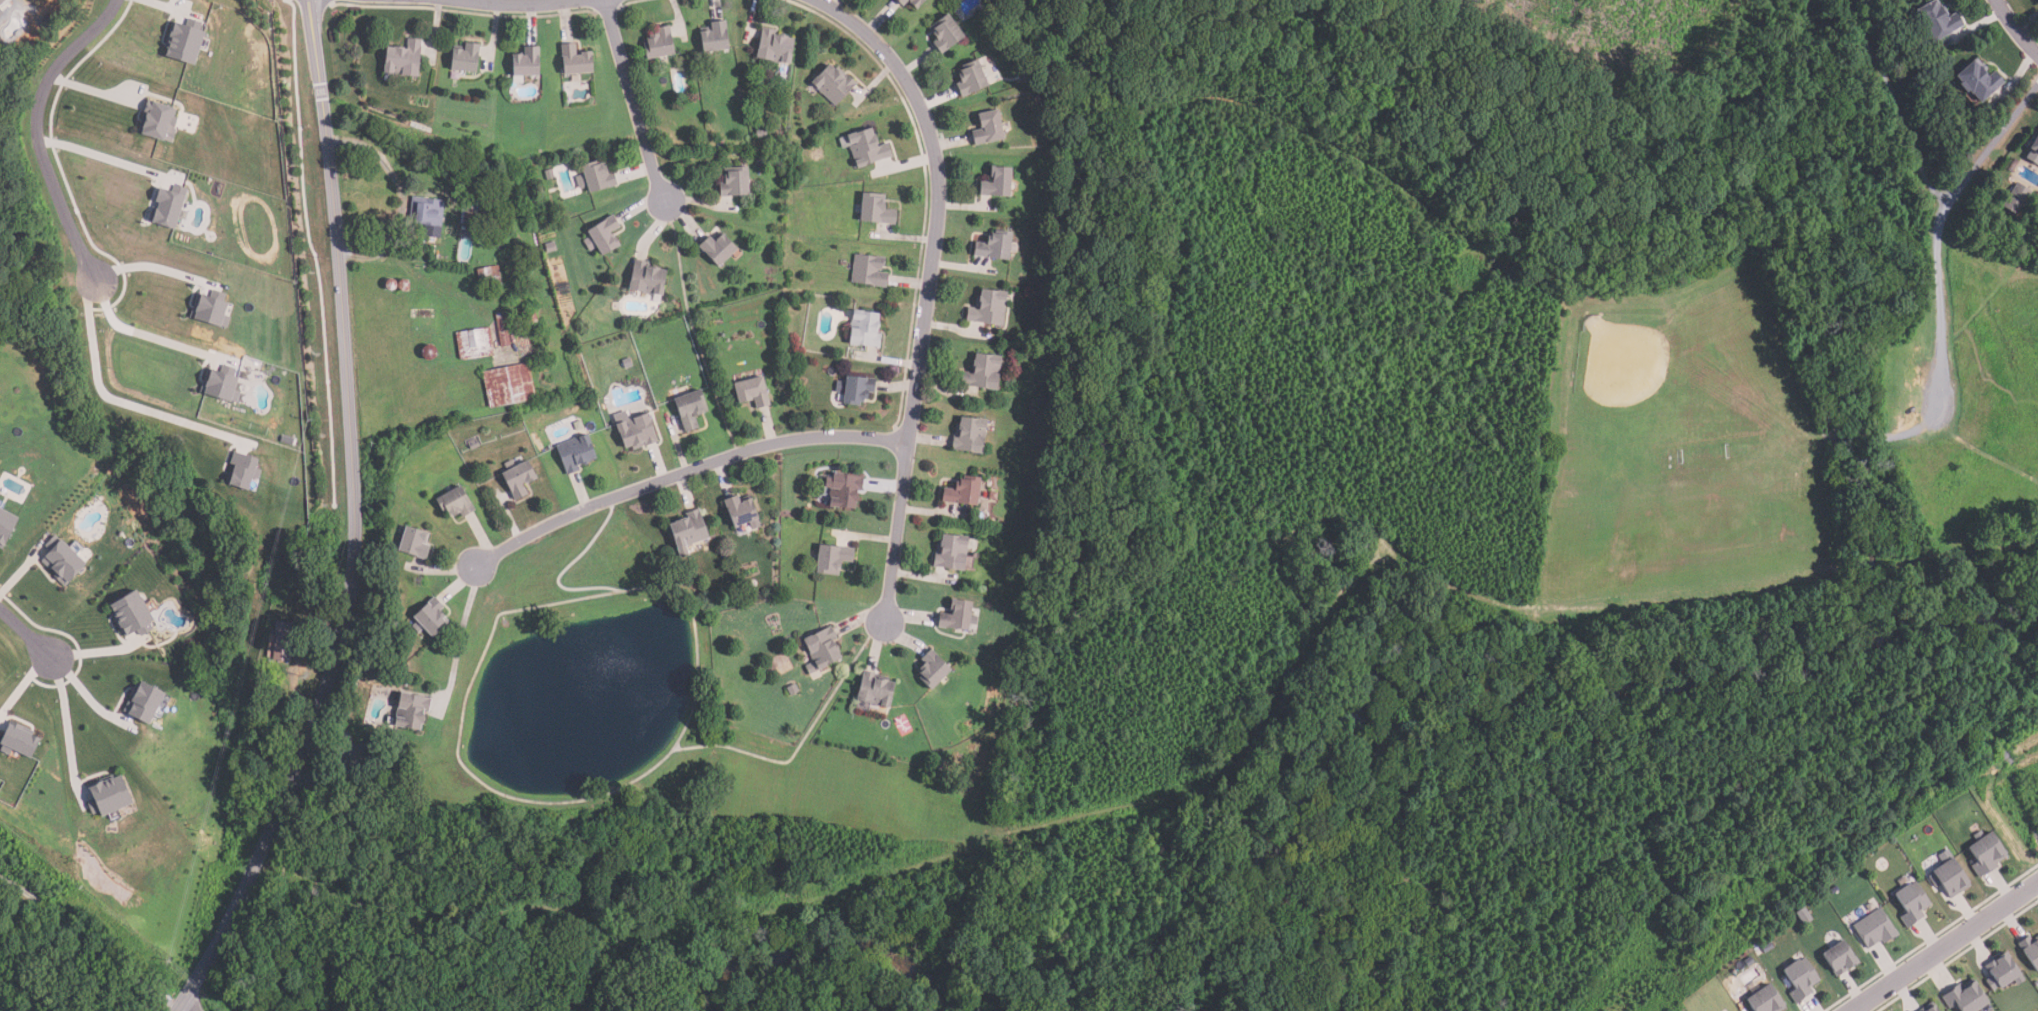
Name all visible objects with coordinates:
road: (479, 2)
building: (899, 2)
building: (913, 3)
road: (506, 4)
building: (3, 8)
building: (1936, 22)
road: (2016, 26)
building: (943, 33)
building: (712, 36)
building: (182, 42)
building: (657, 43)
building: (773, 46)
building: (463, 56)
building: (573, 58)
building: (401, 59)
building: (524, 62)
building: (1022, 75)
building: (970, 78)
building: (1978, 80)
building: (831, 84)
road: (94, 91)
road: (635, 100)
building: (157, 122)
building: (987, 127)
road: (37, 133)
building: (760, 133)
building: (863, 146)
building: (2034, 146)
road: (105, 157)
building: (548, 173)
building: (594, 177)
building: (995, 182)
building: (733, 183)
road: (401, 198)
building: (2015, 198)
building: (166, 206)
building: (873, 209)
building: (469, 211)
building: (426, 212)
road: (1937, 230)
building: (601, 235)
building: (550, 246)
building: (992, 246)
building: (715, 248)
road: (158, 269)
building: (866, 270)
building: (488, 276)
building: (645, 279)
building: (390, 285)
silo: (390, 285)
building: (403, 285)
silo: (403, 285)
road: (928, 289)
building: (987, 307)
building: (209, 309)
building: (528, 315)
building: (424, 322)
building: (503, 326)
building: (862, 329)
road: (144, 336)
building: (473, 344)
building: (428, 351)
silo: (428, 351)
building: (981, 373)
building: (219, 383)
building: (507, 385)
building: (853, 389)
building: (750, 391)
road: (120, 401)
building: (689, 409)
building: (634, 429)
building: (968, 435)
building: (286, 440)
building: (472, 443)
building: (574, 452)
building: (240, 470)
road: (684, 473)
building: (517, 479)
building: (842, 490)
building: (961, 492)
building: (453, 503)
building: (740, 512)
road: (353, 522)
building: (4, 524)
building: (686, 532)
building: (412, 543)
building: (949, 552)
building: (830, 559)
building: (59, 560)
building: (128, 614)
building: (956, 616)
building: (428, 617)
road: (455, 630)
road: (26, 634)
building: (281, 640)
building: (820, 648)
road: (98, 652)
building: (932, 669)
building: (792, 690)
building: (873, 690)
road: (84, 692)
building: (141, 702)
building: (408, 711)
road: (62, 714)
building: (15, 742)
building: (105, 796)
building: (1985, 853)
building: (1949, 879)
building: (1911, 903)
building: (1802, 916)
building: (1873, 928)
road: (89, 944)
road: (1944, 946)
building: (1765, 947)
building: (2030, 950)
building: (1838, 958)
building: (1747, 961)
building: (2003, 971)
building: (1800, 979)
building: (2036, 983)
building: (1966, 998)
building: (1764, 1000)
road: (11, 1004)
road: (186, 1007)
building: (1929, 1008)

